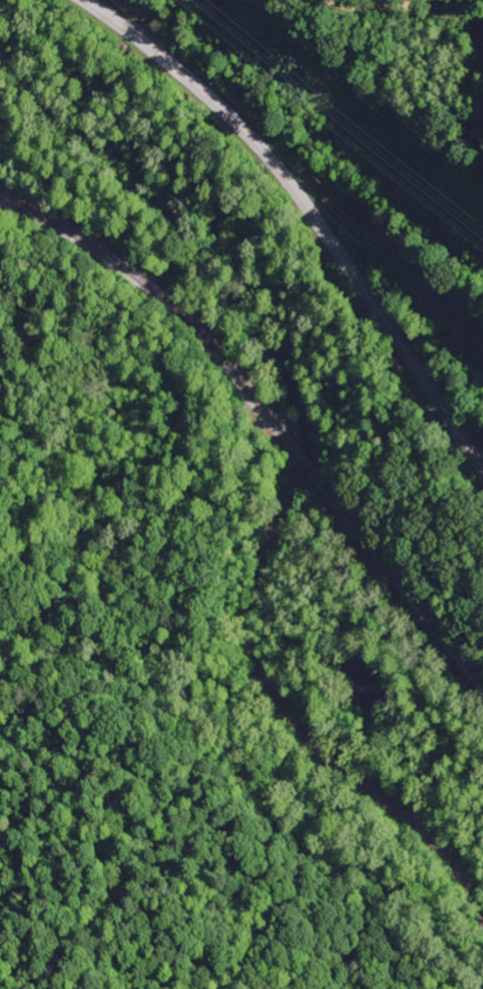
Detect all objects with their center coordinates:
road: (308, 210)
railway: (270, 418)

